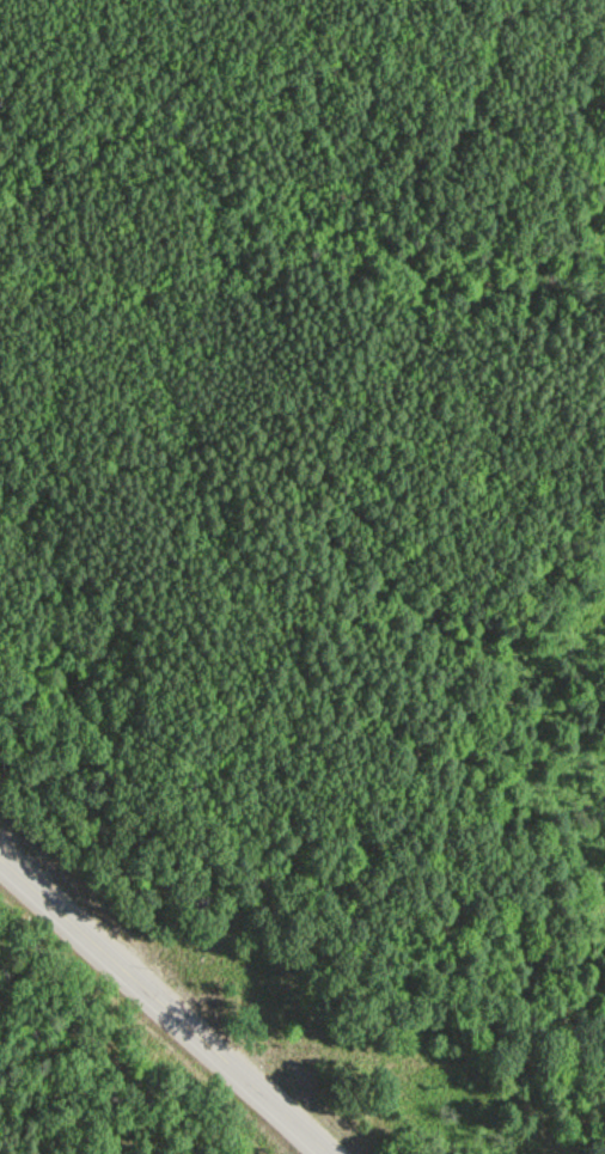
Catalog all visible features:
road: (164, 1005)

